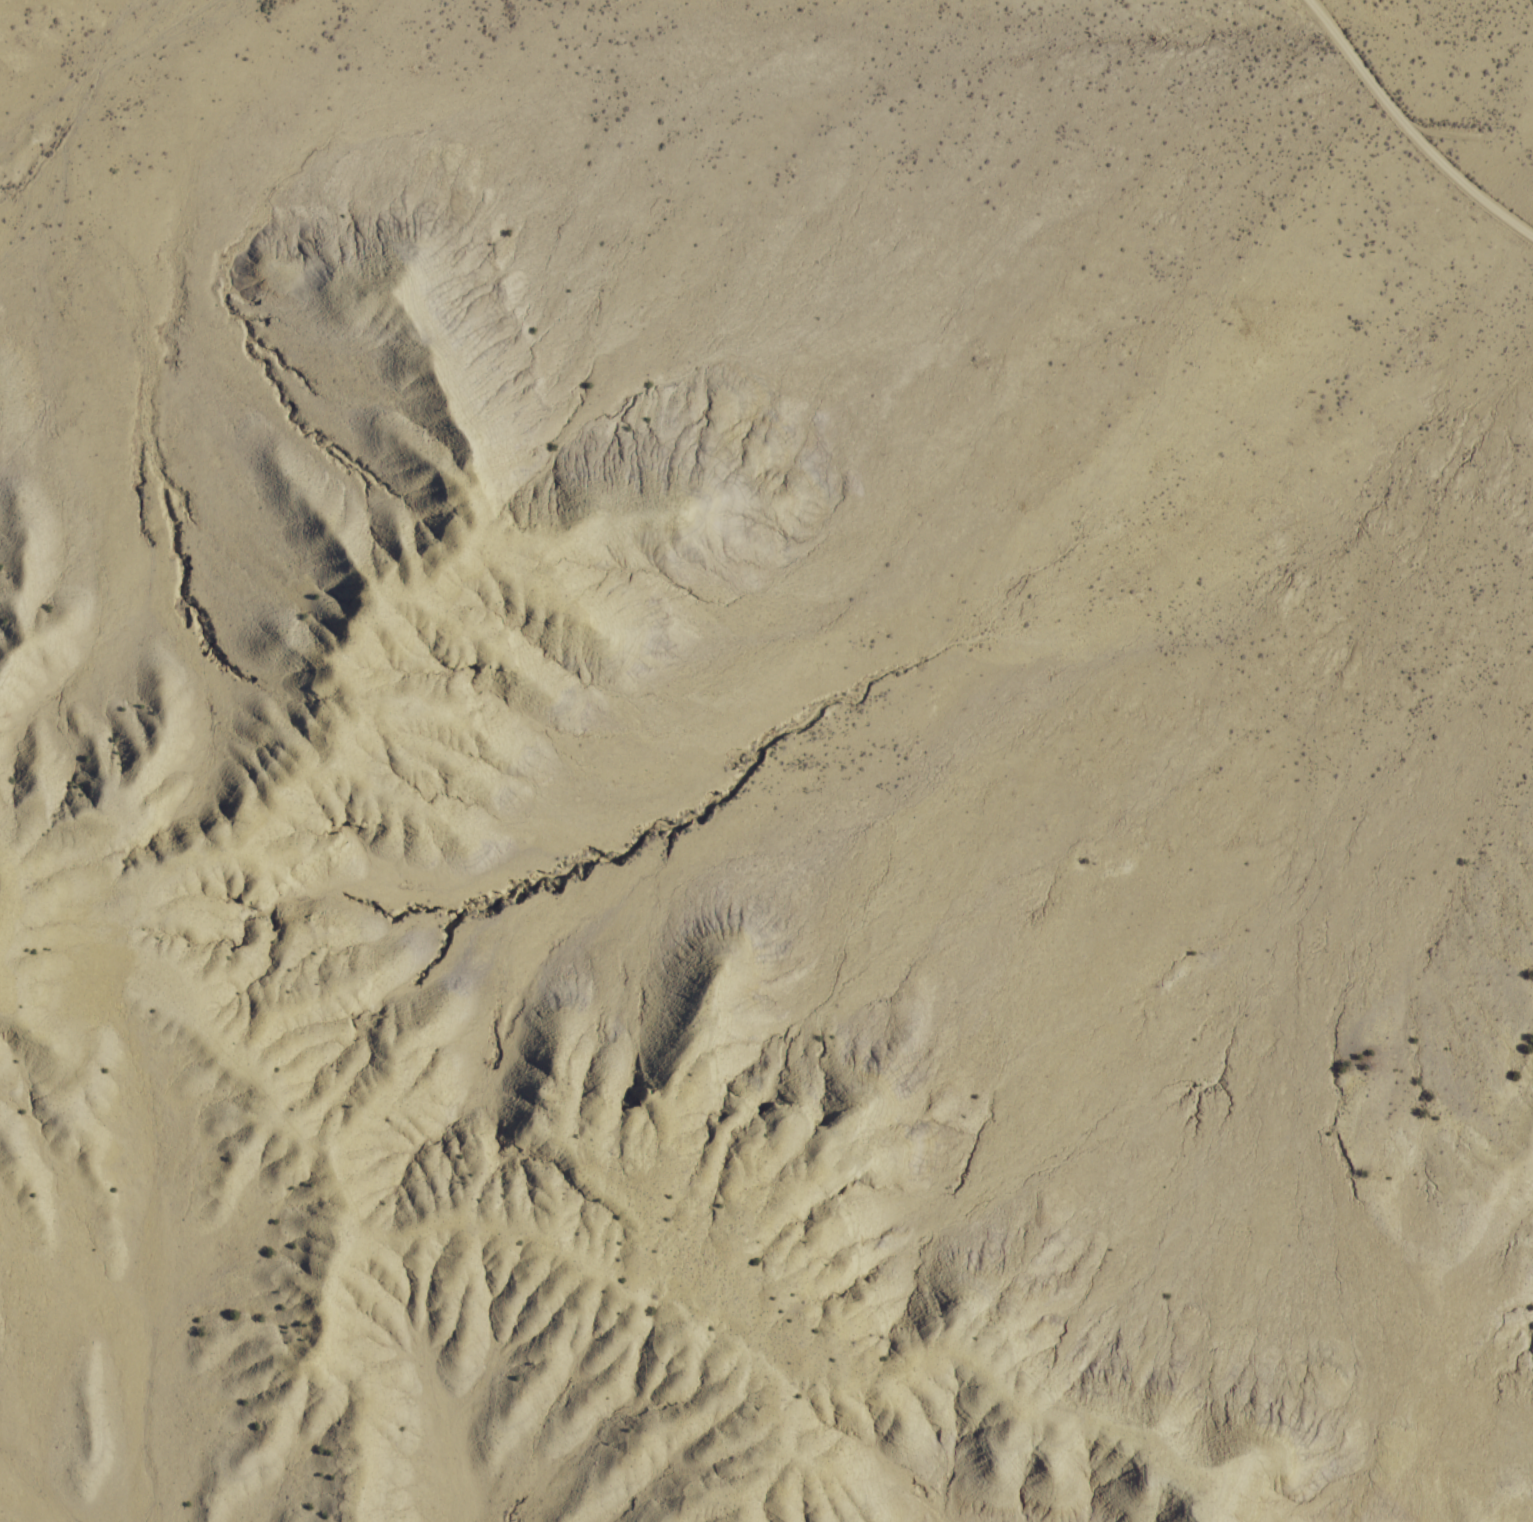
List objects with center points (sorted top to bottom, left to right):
road: (1408, 131)

